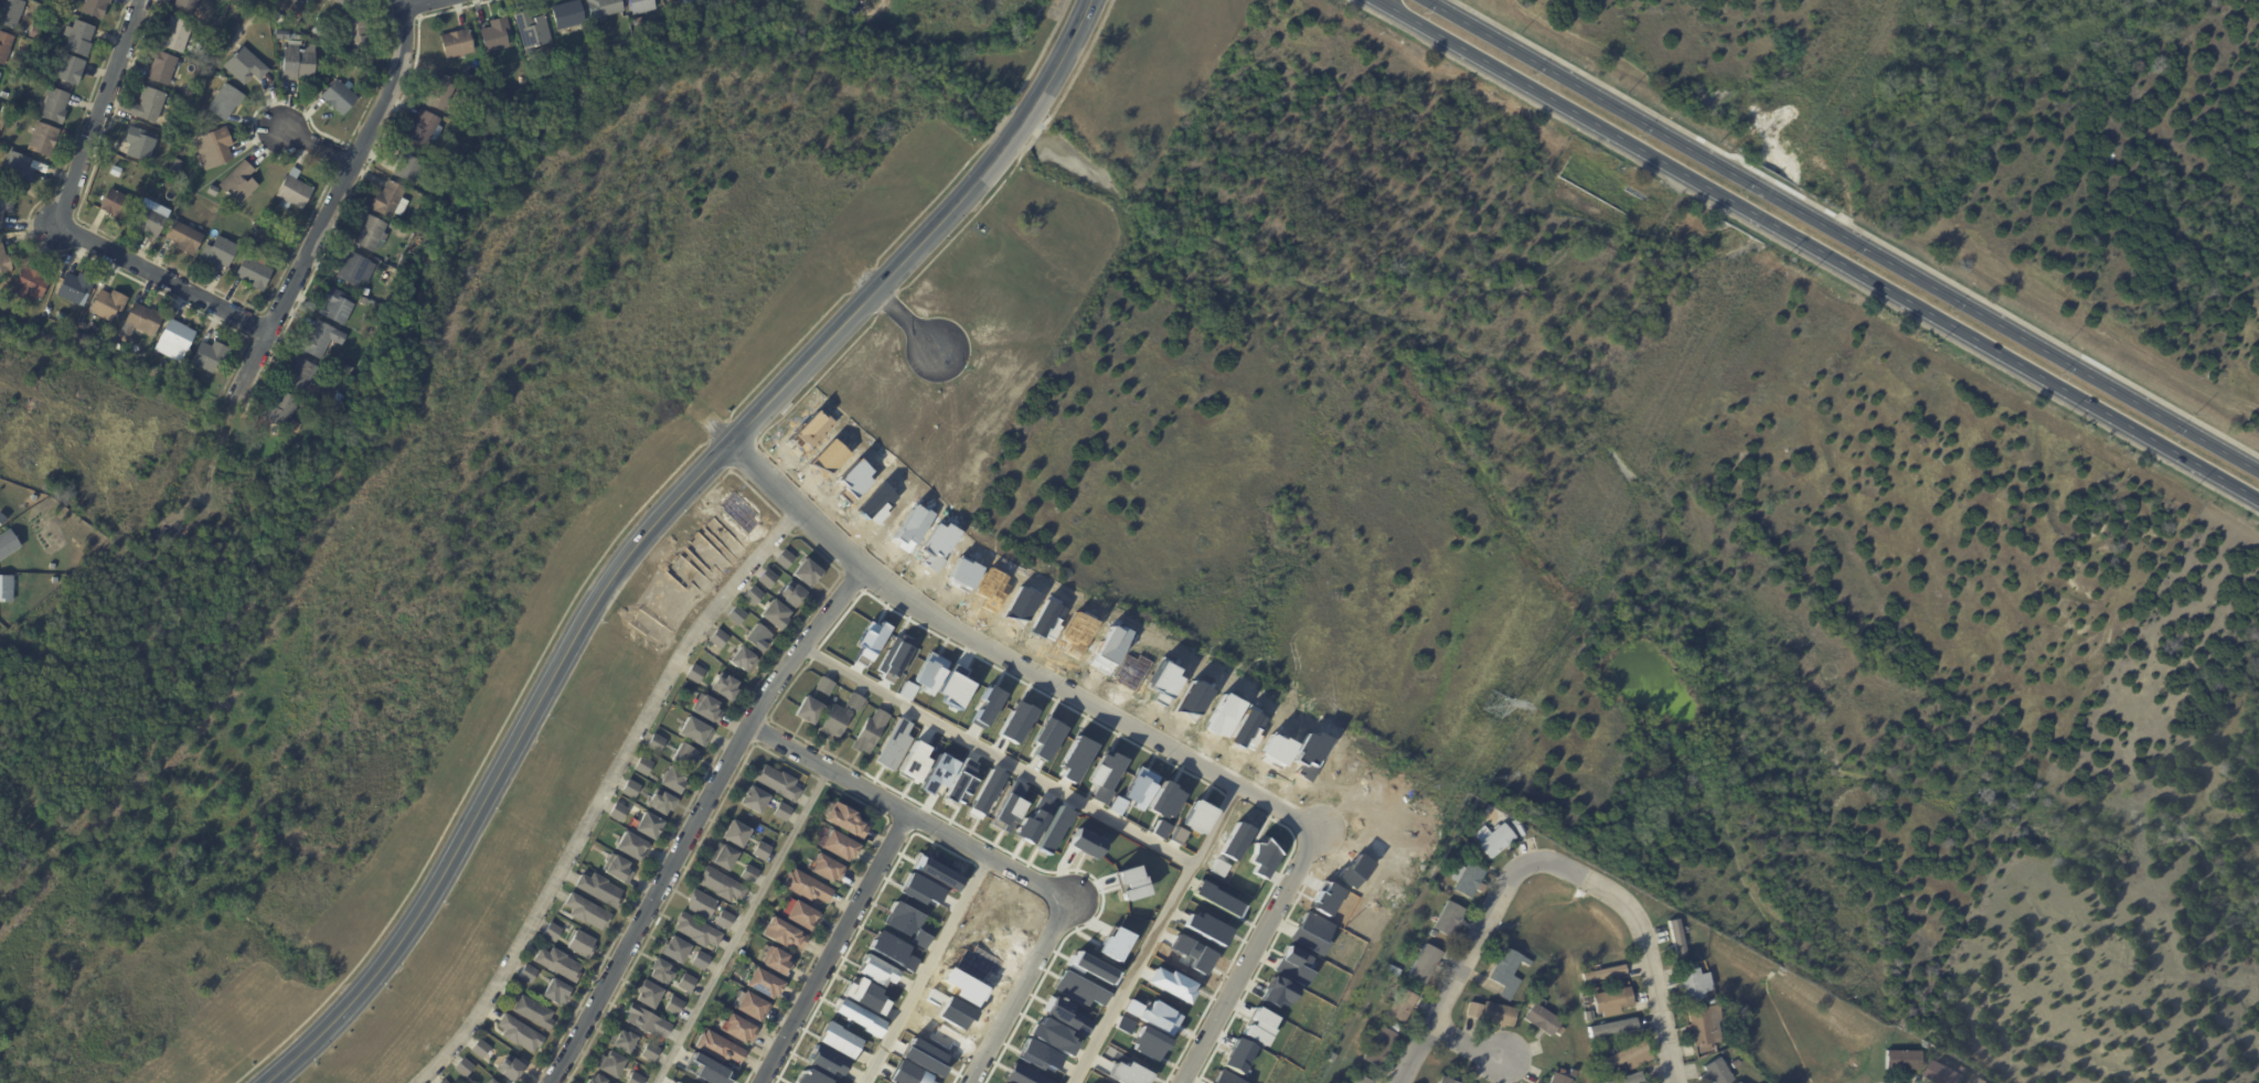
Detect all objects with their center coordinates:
building: (664, 0)
road: (406, 1)
building: (686, 1)
building: (344, 2)
building: (187, 4)
building: (641, 6)
building: (94, 7)
building: (604, 7)
building: (10, 12)
building: (567, 13)
building: (33, 31)
building: (532, 31)
building: (356, 32)
building: (177, 33)
building: (283, 34)
building: (496, 34)
building: (78, 37)
building: (457, 43)
building: (4, 45)
park: (1724, 53)
building: (297, 62)
building: (244, 66)
building: (68, 67)
building: (162, 67)
building: (31, 71)
building: (494, 72)
building: (546, 75)
building: (439, 92)
building: (2, 94)
building: (339, 96)
building: (170, 100)
building: (225, 100)
building: (53, 105)
building: (146, 105)
building: (192, 116)
building: (424, 128)
building: (43, 139)
road: (318, 139)
building: (139, 143)
building: (213, 147)
building: (174, 164)
building: (407, 164)
building: (20, 168)
building: (238, 182)
building: (212, 191)
building: (294, 191)
road: (333, 199)
building: (388, 200)
building: (6, 204)
building: (115, 204)
building: (148, 218)
road: (57, 222)
building: (370, 233)
road: (1842, 235)
building: (183, 237)
road: (1816, 250)
building: (219, 253)
building: (3, 260)
building: (355, 269)
building: (254, 271)
building: (30, 283)
building: (75, 288)
building: (365, 291)
building: (107, 304)
building: (333, 307)
building: (142, 319)
road: (908, 324)
building: (320, 340)
building: (174, 341)
building: (210, 355)
building: (347, 371)
building: (300, 374)
building: (189, 379)
building: (320, 393)
building: (281, 409)
road: (657, 525)
building: (7, 543)
building: (786, 558)
building: (808, 572)
building: (768, 577)
building: (54, 580)
building: (7, 588)
building: (791, 593)
building: (754, 594)
building: (775, 613)
building: (738, 614)
building: (758, 636)
building: (718, 639)
building: (743, 658)
road: (1008, 661)
building: (695, 673)
building: (724, 686)
building: (824, 686)
building: (855, 701)
power tower: (1500, 703)
building: (707, 708)
building: (809, 709)
building: (835, 720)
building: (695, 730)
building: (871, 731)
building: (657, 742)
building: (685, 755)
road: (997, 757)
building: (644, 765)
building: (1105, 770)
building: (673, 779)
building: (778, 782)
building: (959, 783)
building: (631, 787)
road: (603, 791)
building: (985, 791)
building: (755, 798)
building: (1163, 800)
building: (662, 802)
building: (619, 811)
building: (782, 811)
road: (699, 818)
building: (849, 818)
building: (649, 825)
building: (1158, 828)
building: (1522, 828)
building: (736, 834)
building: (1494, 839)
building: (841, 844)
building: (632, 846)
building: (763, 850)
building: (724, 856)
road: (1000, 862)
building: (829, 866)
building: (618, 868)
building: (750, 872)
building: (1468, 878)
building: (722, 883)
building: (808, 886)
building: (600, 888)
building: (702, 902)
building: (587, 911)
building: (801, 913)
building: (725, 919)
building: (901, 919)
building: (1449, 920)
road: (743, 925)
building: (697, 930)
building: (553, 931)
building: (785, 932)
road: (1154, 933)
building: (919, 939)
road: (1645, 940)
building: (1676, 941)
building: (580, 942)
road: (833, 947)
building: (676, 948)
building: (892, 950)
road: (1250, 956)
building: (775, 959)
building: (701, 961)
building: (560, 963)
building: (1294, 964)
building: (1425, 965)
building: (1394, 968)
road: (1467, 968)
building: (662, 969)
building: (874, 969)
road: (927, 969)
building: (528, 973)
building: (1509, 973)
building: (1602, 973)
building: (761, 980)
building: (688, 983)
building: (1696, 983)
building: (518, 989)
building: (557, 990)
building: (1276, 991)
building: (650, 993)
building: (864, 995)
building: (1613, 999)
building: (1712, 1000)
building: (750, 1005)
building: (1402, 1005)
building: (674, 1006)
building: (533, 1011)
building: (1493, 1014)
building: (1542, 1019)
building: (648, 1020)
building: (1707, 1026)
building: (740, 1027)
building: (1397, 1027)
building: (1610, 1027)
building: (1560, 1031)
building: (520, 1033)
building: (1053, 1036)
building: (622, 1039)
building: (837, 1039)
building: (720, 1047)
building: (1381, 1047)
road: (1473, 1047)
building: (1925, 1047)
building: (480, 1049)
building: (650, 1052)
building: (1630, 1057)
building: (825, 1061)
building: (1900, 1061)
building: (611, 1063)
building: (463, 1068)
building: (510, 1068)
building: (708, 1071)
building: (1716, 1072)
building: (1944, 1074)
building: (633, 1077)
building: (809, 1077)
building: (1224, 1077)
building: (598, 1079)
building: (1360, 1079)
building: (1559, 1079)
building: (1629, 1079)
building: (1447, 1080)
building: (1981, 1080)
building: (444, 1081)
building: (491, 1081)
building: (678, 1082)
building: (1735, 1082)

